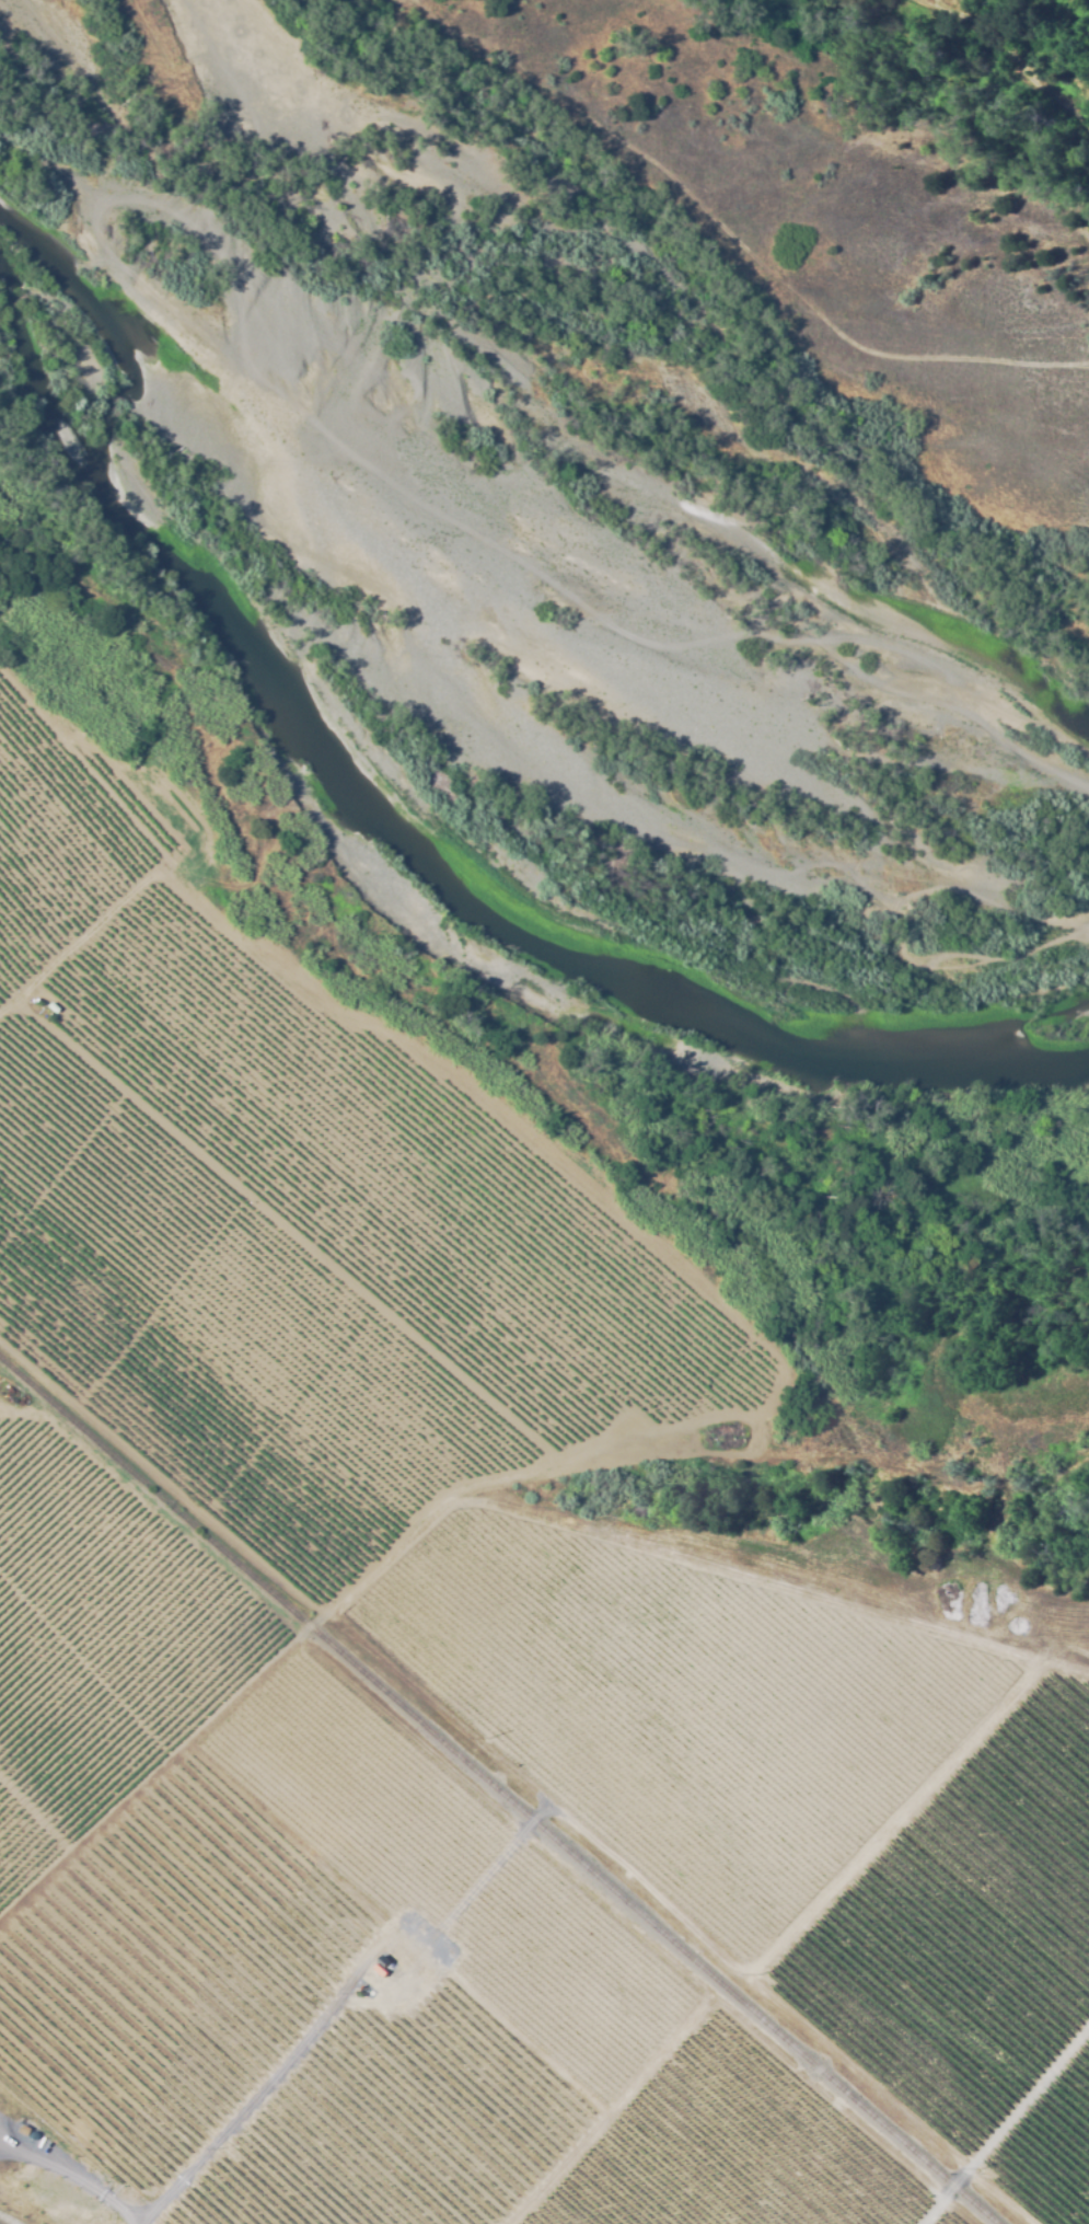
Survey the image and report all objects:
river: (475, 779)
building: (49, 1005)
railway: (501, 1790)
building: (389, 1982)

